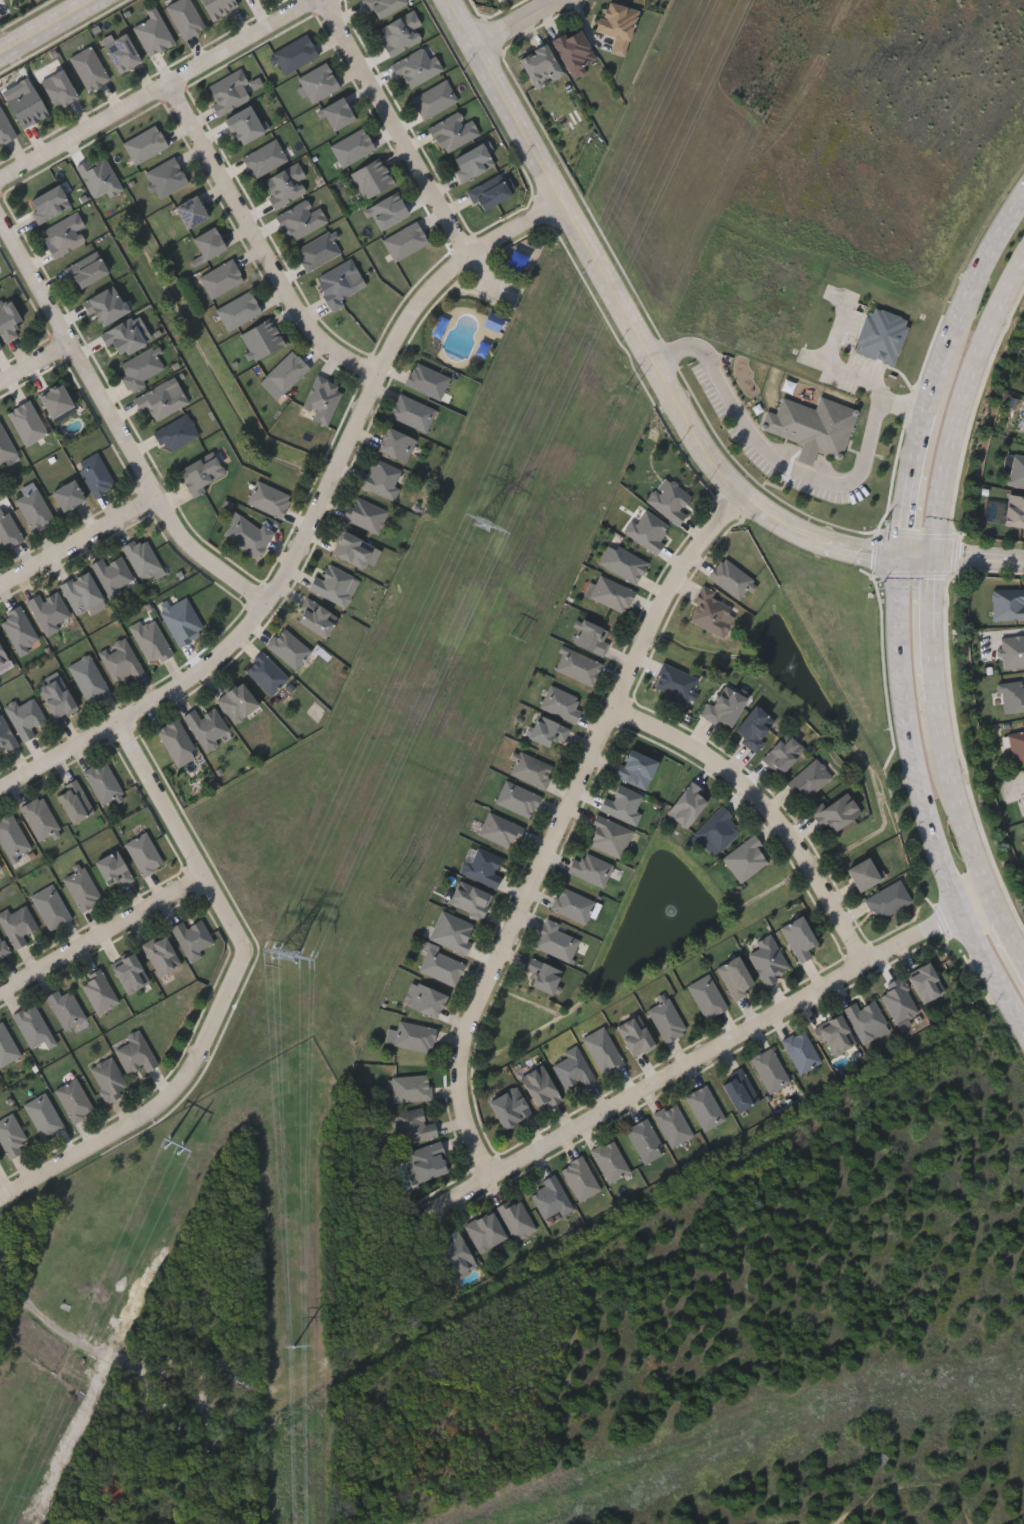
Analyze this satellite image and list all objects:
building: (248, 0)
building: (501, 0)
building: (383, 6)
building: (217, 7)
building: (185, 17)
road: (516, 23)
building: (617, 25)
road: (51, 29)
building: (400, 32)
building: (152, 33)
building: (575, 51)
building: (121, 53)
building: (295, 53)
building: (540, 65)
building: (417, 66)
building: (88, 68)
building: (318, 82)
building: (58, 89)
road: (159, 90)
building: (229, 91)
building: (434, 99)
building: (26, 106)
building: (337, 113)
power tower: (756, 114)
building: (244, 124)
building: (5, 127)
building: (452, 131)
building: (144, 144)
building: (352, 147)
road: (415, 156)
building: (265, 158)
building: (472, 161)
building: (99, 176)
building: (166, 177)
building: (372, 177)
building: (284, 185)
building: (489, 192)
building: (48, 204)
building: (387, 211)
building: (190, 212)
building: (300, 219)
building: (64, 235)
building: (405, 241)
building: (208, 243)
road: (259, 243)
building: (317, 251)
building: (86, 270)
building: (221, 278)
building: (338, 284)
building: (106, 305)
building: (238, 310)
road: (972, 311)
building: (8, 318)
building: (496, 322)
road: (633, 328)
building: (123, 337)
building: (261, 339)
building: (0, 347)
road: (36, 364)
building: (140, 368)
building: (286, 371)
building: (427, 380)
power tower: (628, 391)
building: (161, 399)
building: (322, 399)
building: (55, 400)
road: (960, 407)
building: (412, 412)
building: (26, 422)
road: (118, 423)
building: (812, 427)
building: (1023, 430)
building: (175, 433)
building: (395, 444)
building: (5, 445)
road: (789, 468)
building: (1014, 469)
building: (95, 474)
building: (200, 474)
building: (381, 478)
road: (916, 484)
building: (67, 495)
building: (268, 499)
building: (669, 499)
building: (34, 509)
building: (1014, 511)
building: (366, 514)
road: (313, 523)
power tower: (483, 528)
building: (648, 529)
building: (7, 531)
building: (247, 534)
road: (80, 542)
building: (352, 549)
traffic signals: (904, 555)
road: (919, 556)
traffic signals: (934, 557)
building: (143, 559)
road: (979, 559)
building: (623, 562)
building: (112, 575)
building: (731, 578)
building: (332, 584)
building: (81, 592)
building: (611, 593)
building: (1007, 604)
building: (50, 611)
building: (711, 611)
building: (316, 618)
building: (181, 620)
road: (929, 628)
building: (18, 630)
building: (590, 637)
building: (151, 641)
power tower: (515, 641)
building: (288, 647)
building: (1012, 650)
building: (3, 657)
building: (120, 661)
building: (578, 665)
building: (266, 673)
building: (87, 678)
building: (675, 681)
building: (1012, 696)
building: (56, 697)
building: (237, 702)
building: (560, 702)
building: (724, 707)
building: (25, 716)
building: (754, 726)
building: (206, 727)
building: (546, 730)
building: (5, 736)
building: (177, 742)
building: (1016, 743)
building: (783, 753)
building: (531, 768)
building: (636, 768)
building: (810, 778)
building: (103, 782)
building: (1022, 788)
road: (929, 797)
building: (517, 798)
building: (74, 802)
building: (623, 803)
road: (953, 803)
building: (687, 804)
road: (768, 808)
building: (835, 810)
building: (39, 818)
road: (561, 825)
building: (500, 829)
building: (718, 830)
road: (182, 835)
building: (609, 836)
building: (11, 837)
building: (143, 853)
building: (745, 858)
building: (482, 866)
building: (113, 868)
building: (590, 868)
building: (0, 870)
building: (863, 873)
power tower: (396, 883)
building: (81, 888)
building: (470, 899)
building: (887, 899)
building: (573, 904)
building: (50, 906)
building: (17, 924)
building: (452, 931)
road: (1008, 932)
road: (103, 934)
building: (799, 936)
building: (191, 937)
building: (555, 940)
building: (2, 950)
building: (161, 954)
power tower: (285, 955)
building: (768, 958)
building: (441, 966)
building: (129, 972)
building: (542, 973)
building: (735, 975)
building: (925, 981)
building: (98, 991)
building: (707, 996)
building: (423, 999)
building: (899, 999)
building: (65, 1007)
building: (666, 1018)
building: (866, 1019)
building: (31, 1024)
building: (635, 1034)
building: (835, 1034)
building: (414, 1035)
building: (6, 1045)
building: (603, 1050)
building: (801, 1050)
building: (135, 1052)
road: (704, 1055)
building: (573, 1067)
building: (770, 1069)
building: (108, 1078)
building: (540, 1086)
building: (410, 1087)
building: (739, 1089)
building: (74, 1099)
road: (159, 1107)
building: (509, 1107)
building: (704, 1107)
building: (43, 1116)
building: (672, 1124)
building: (413, 1125)
building: (11, 1135)
building: (644, 1140)
power tower: (178, 1148)
building: (426, 1160)
building: (610, 1160)
building: (0, 1164)
building: (580, 1177)
building: (550, 1197)
building: (516, 1217)
building: (484, 1230)
building: (455, 1253)
power tower: (295, 1346)
park: (838, 1469)

